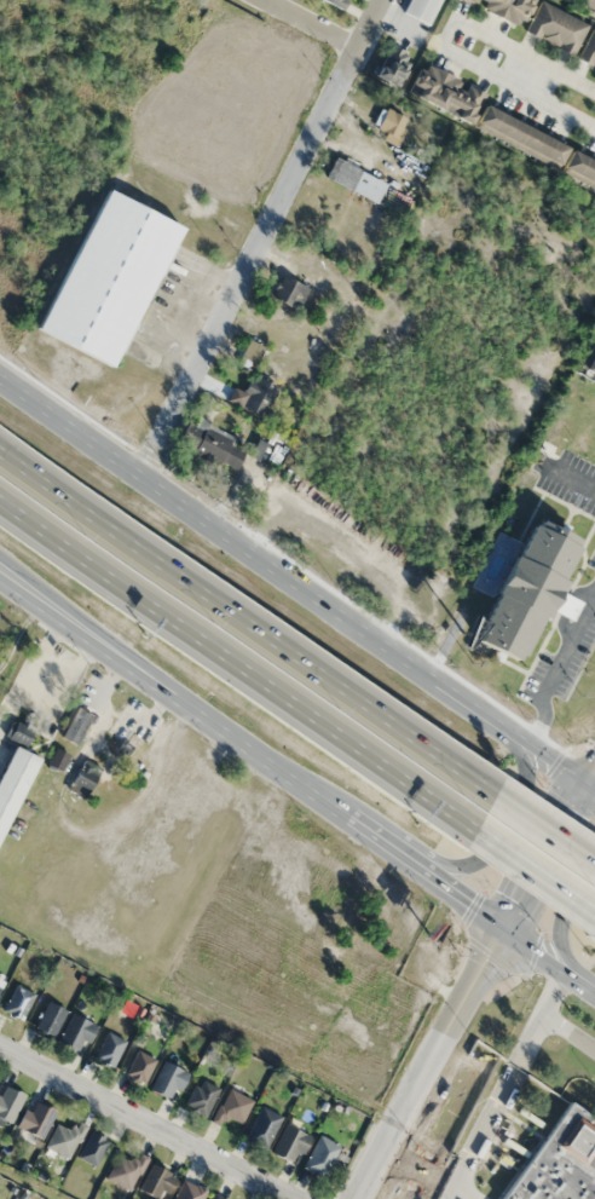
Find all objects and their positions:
building: (333, 2)
building: (588, 5)
building: (421, 10)
road: (316, 22)
building: (541, 23)
road: (512, 46)
building: (392, 64)
road: (528, 73)
road: (518, 83)
building: (391, 122)
building: (492, 122)
building: (354, 179)
road: (259, 234)
building: (305, 260)
building: (105, 276)
building: (288, 290)
building: (249, 350)
building: (589, 363)
building: (256, 393)
building: (212, 443)
road: (573, 479)
road: (296, 578)
building: (525, 588)
road: (249, 617)
road: (108, 642)
road: (558, 664)
road: (236, 674)
building: (134, 721)
building: (75, 725)
building: (17, 732)
building: (57, 759)
building: (13, 778)
building: (83, 778)
traffic signals: (594, 783)
road: (296, 784)
road: (547, 820)
road: (498, 828)
road: (553, 858)
road: (536, 876)
road: (560, 917)
traffic signals: (510, 936)
building: (0, 980)
building: (17, 1002)
building: (48, 1018)
building: (75, 1032)
building: (108, 1049)
building: (139, 1066)
road: (437, 1067)
building: (166, 1079)
building: (201, 1096)
building: (8, 1102)
building: (34, 1118)
road: (146, 1120)
building: (261, 1126)
building: (289, 1143)
building: (91, 1148)
building: (319, 1157)
building: (559, 1161)
building: (123, 1170)
building: (156, 1182)
building: (190, 1192)
building: (215, 1197)

